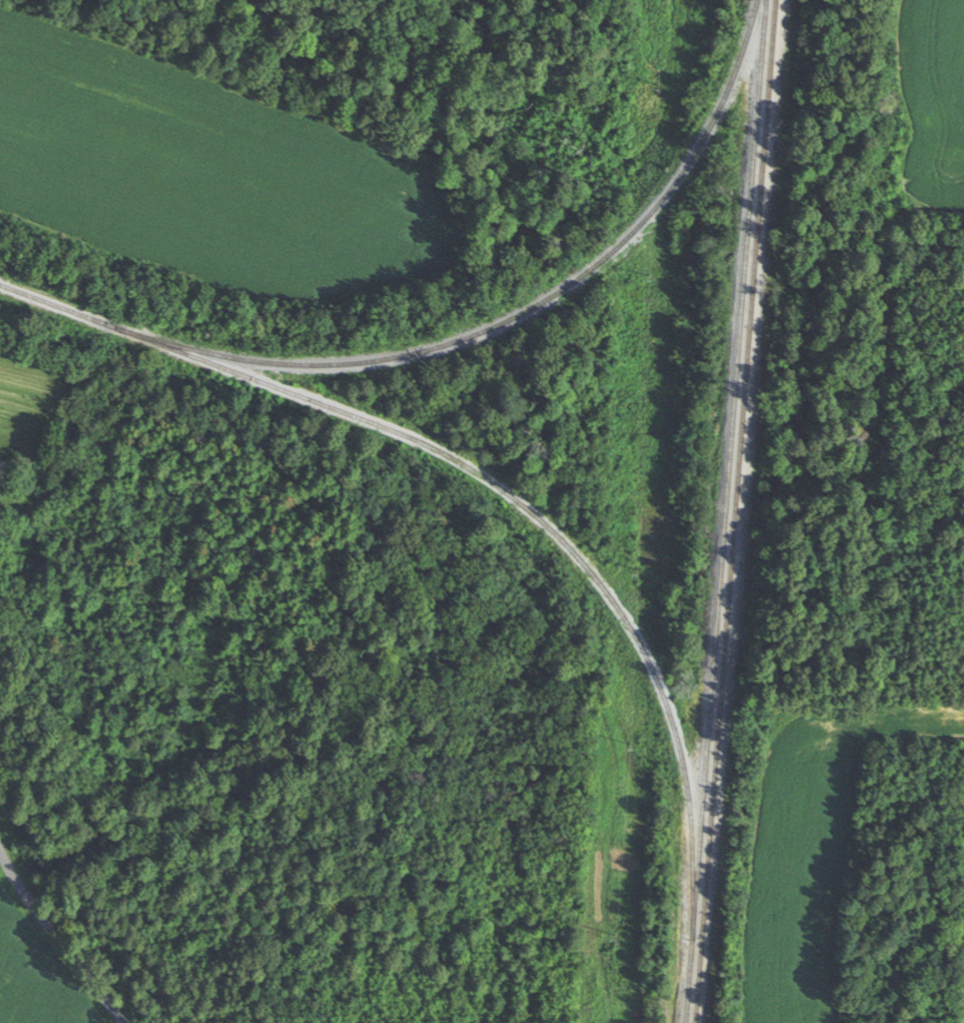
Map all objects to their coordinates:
railway: (688, 165)
railway: (344, 364)
railway: (730, 470)
building: (2, 476)
railway: (492, 480)
railway: (739, 511)
road: (60, 934)
railway: (689, 982)

